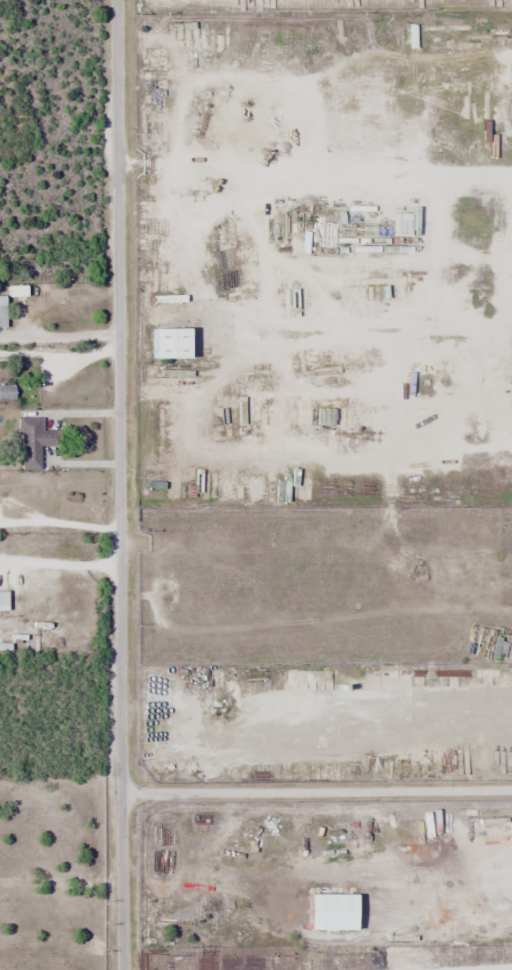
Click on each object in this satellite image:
building: (363, 248)
building: (1, 300)
building: (167, 343)
building: (6, 391)
building: (32, 442)
building: (154, 480)
road: (122, 484)
building: (510, 675)
road: (317, 790)
power tower: (191, 951)

